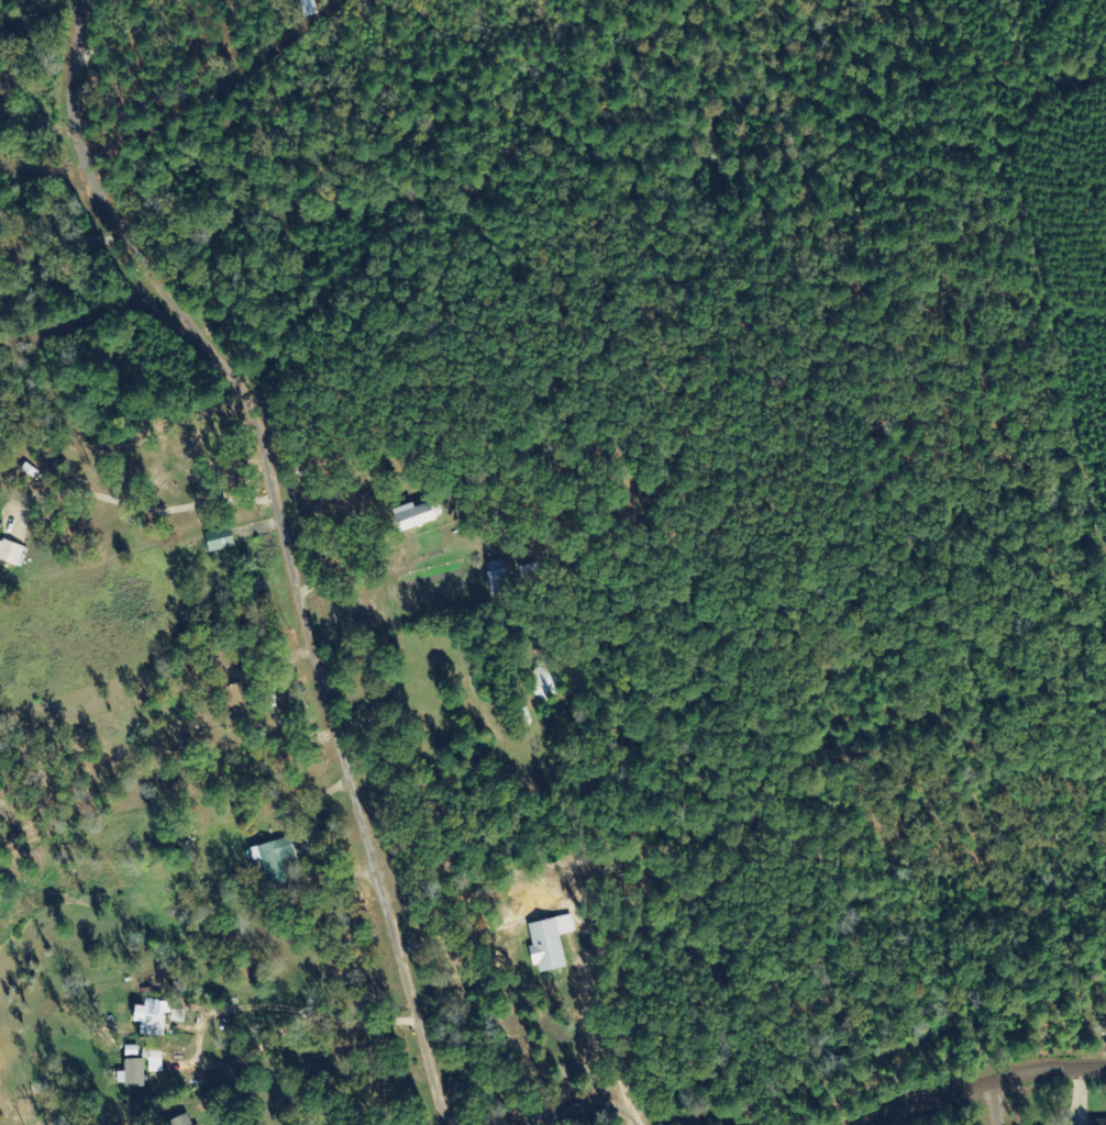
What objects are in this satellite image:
road: (922, 232)
road: (202, 323)
road: (892, 487)
building: (418, 515)
building: (218, 541)
building: (10, 550)
building: (497, 578)
building: (545, 682)
road: (541, 768)
building: (274, 860)
building: (549, 944)
building: (177, 1016)
building: (151, 1018)
building: (154, 1060)
building: (134, 1073)
road: (1026, 1100)
road: (1016, 1116)
building: (178, 1121)
building: (1098, 1122)
building: (197, 1124)

